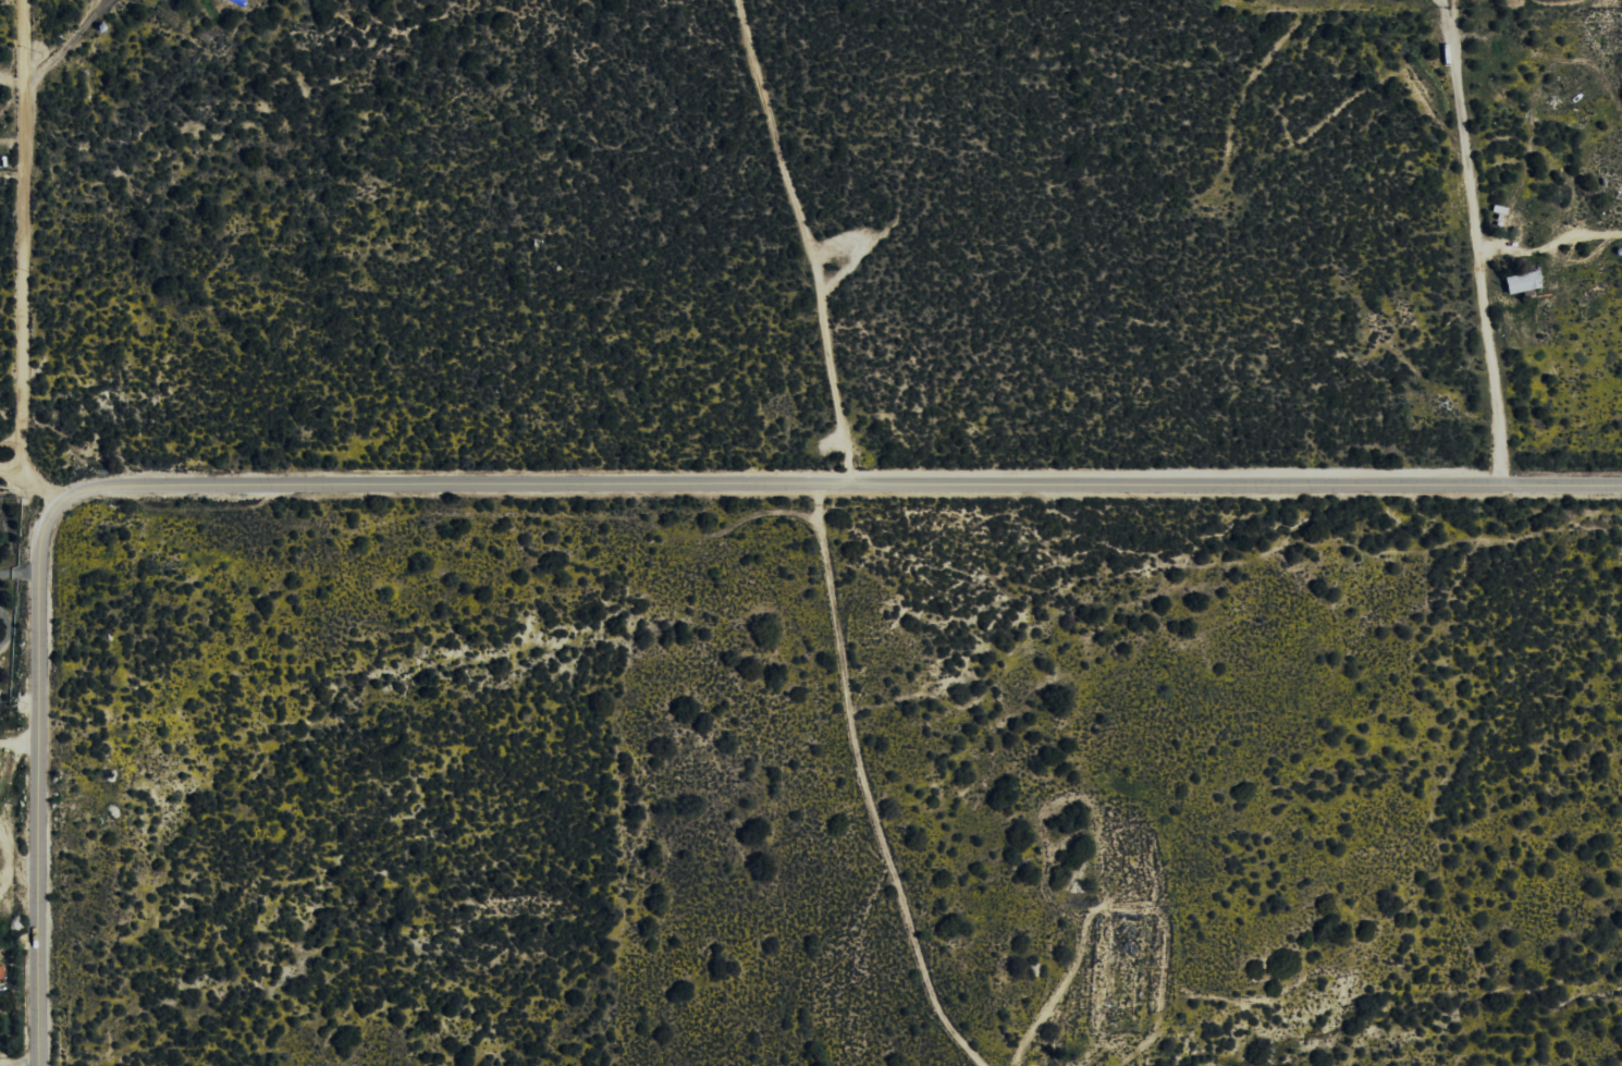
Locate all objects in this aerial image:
road: (23, 233)
building: (1519, 282)
road: (13, 467)
road: (45, 487)
road: (557, 489)

